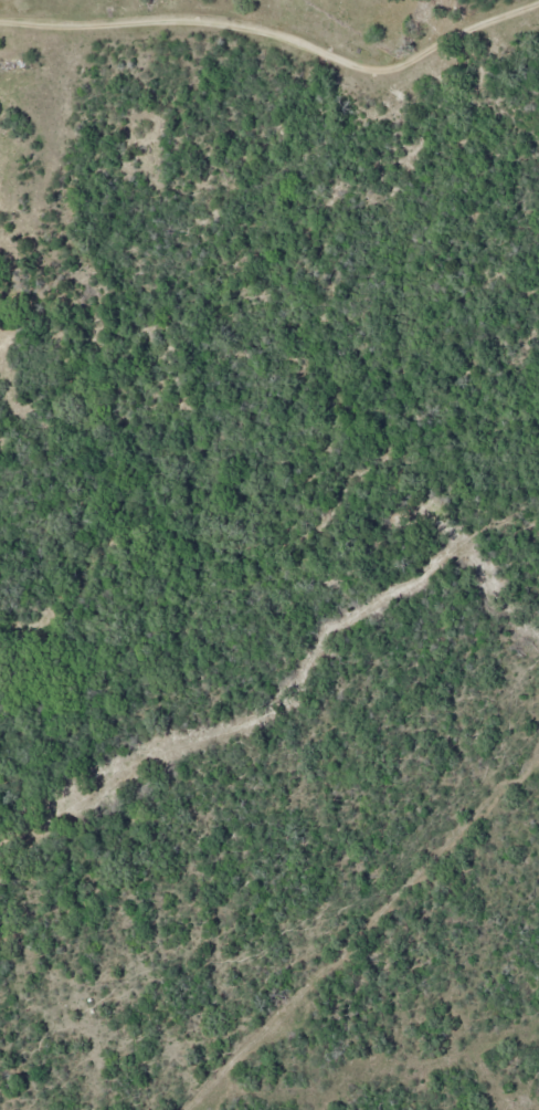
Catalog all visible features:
road: (278, 35)

